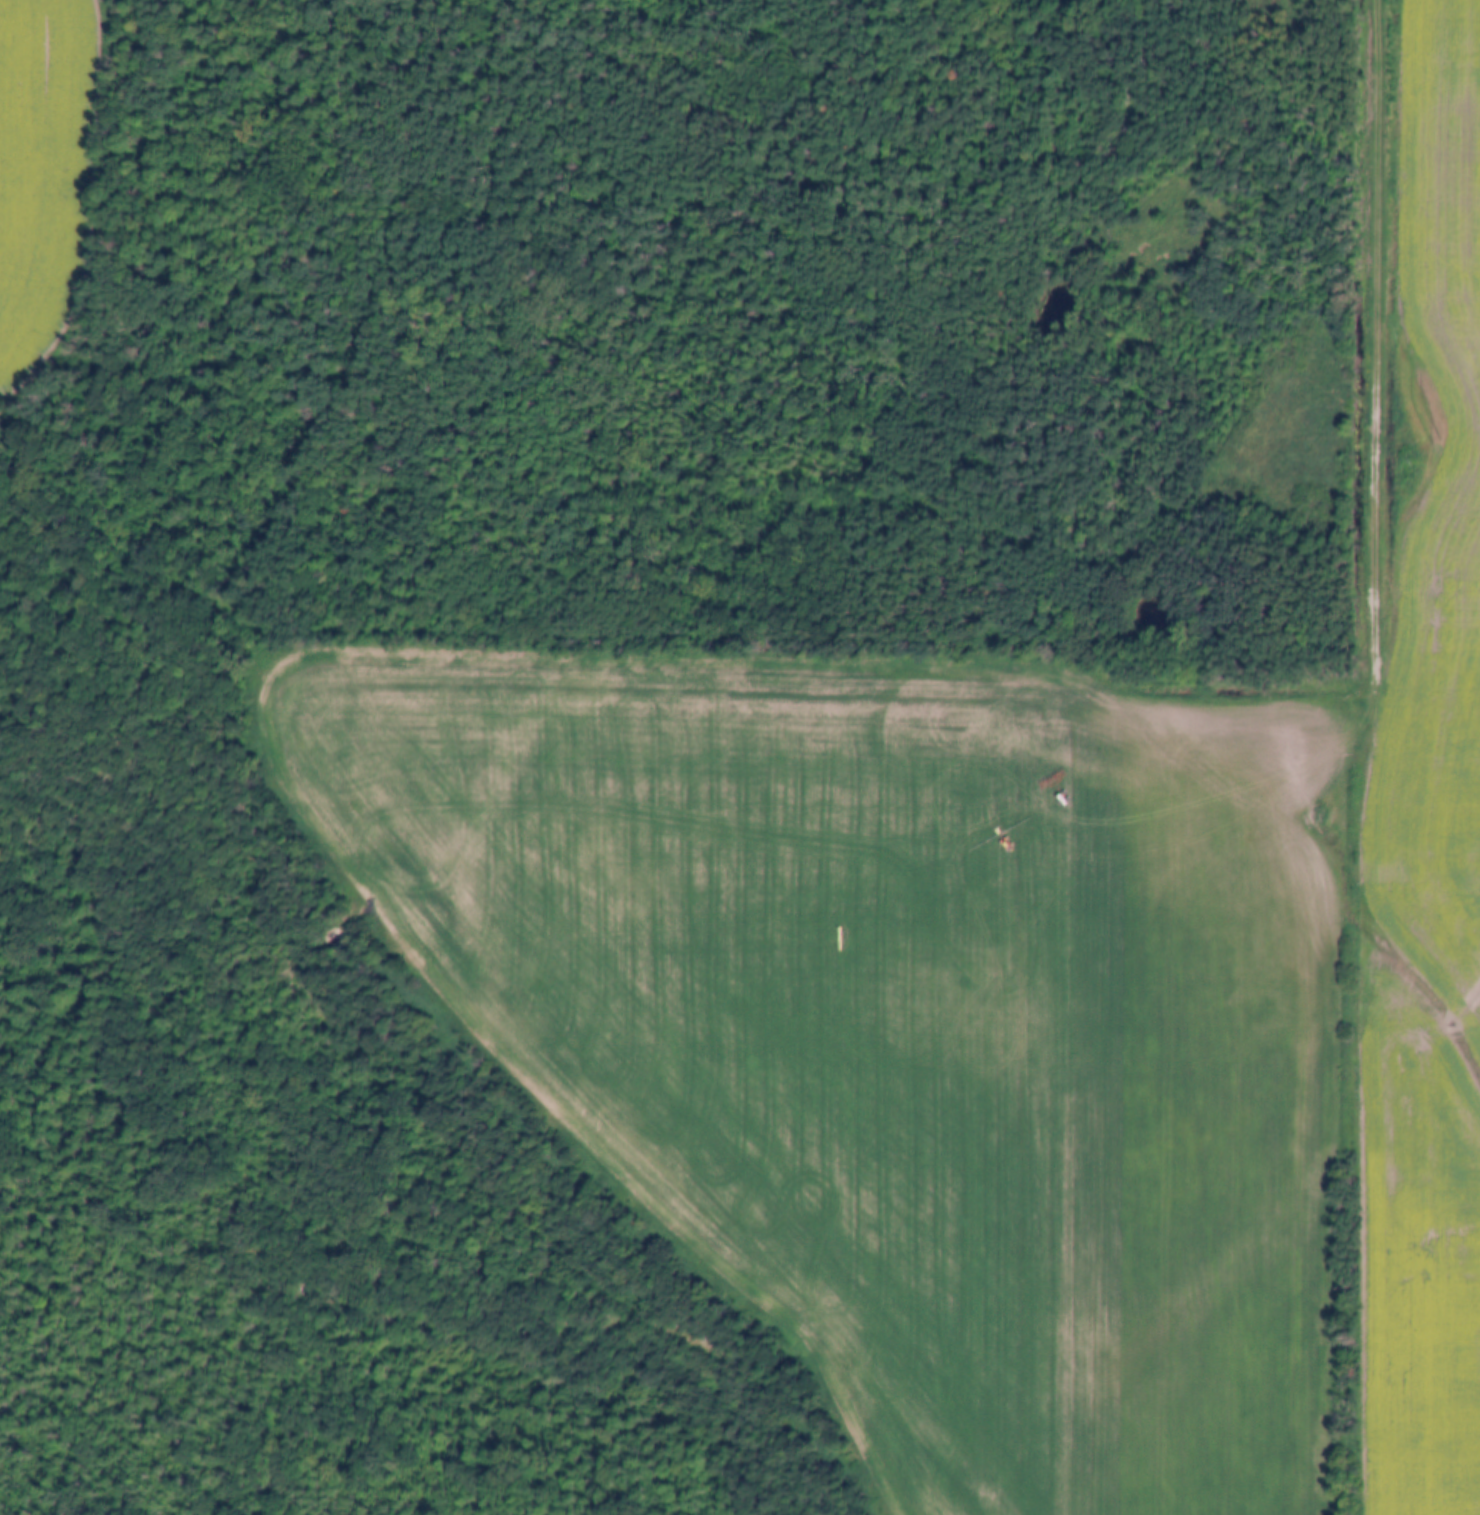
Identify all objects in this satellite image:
road: (1364, 755)

